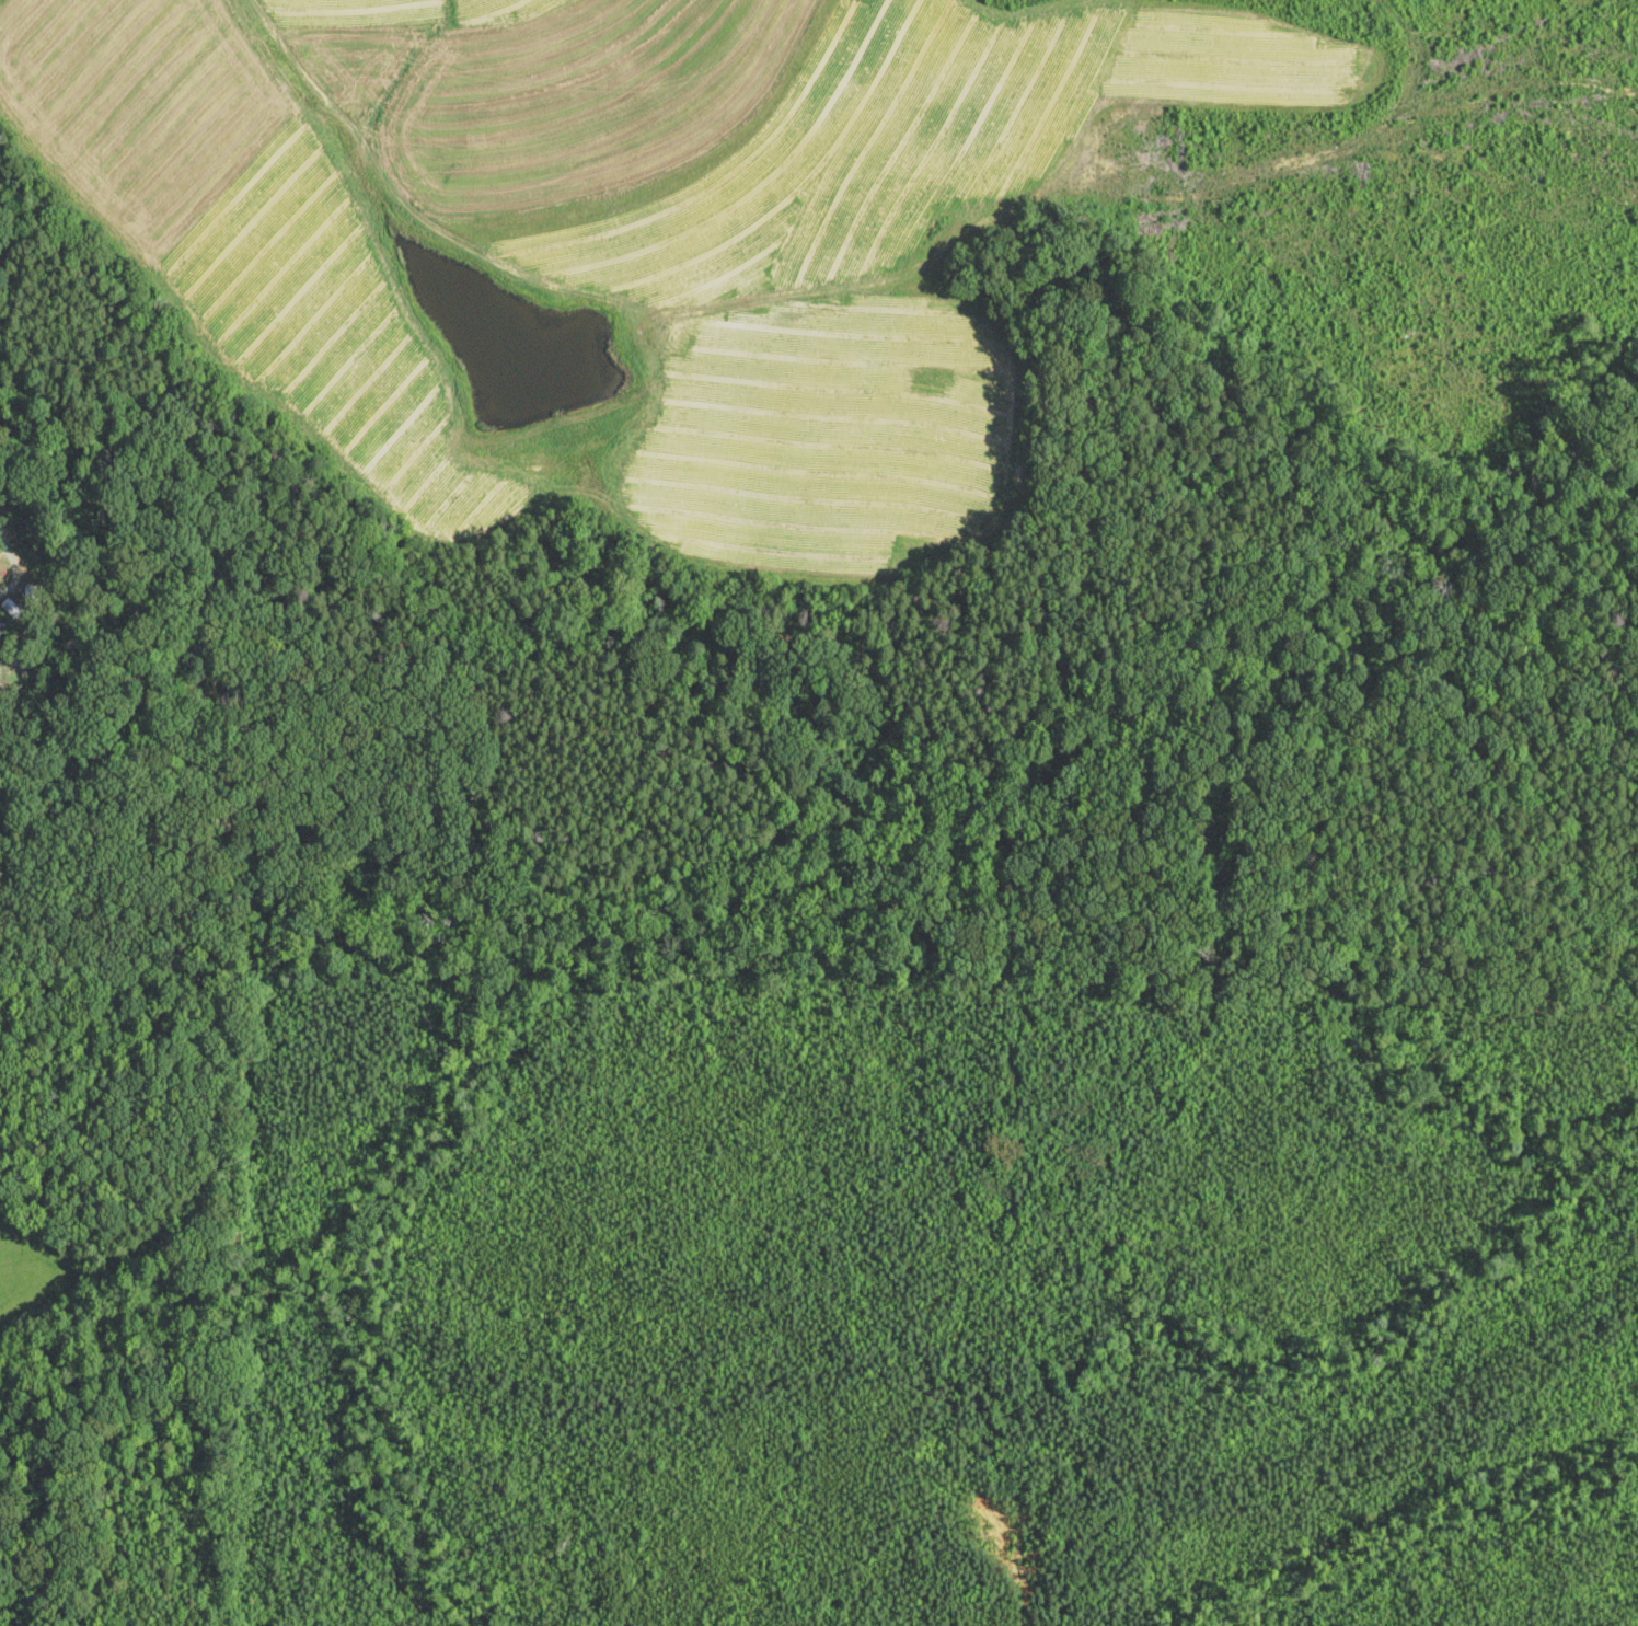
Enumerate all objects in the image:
building: (2, 576)
building: (0, 630)

